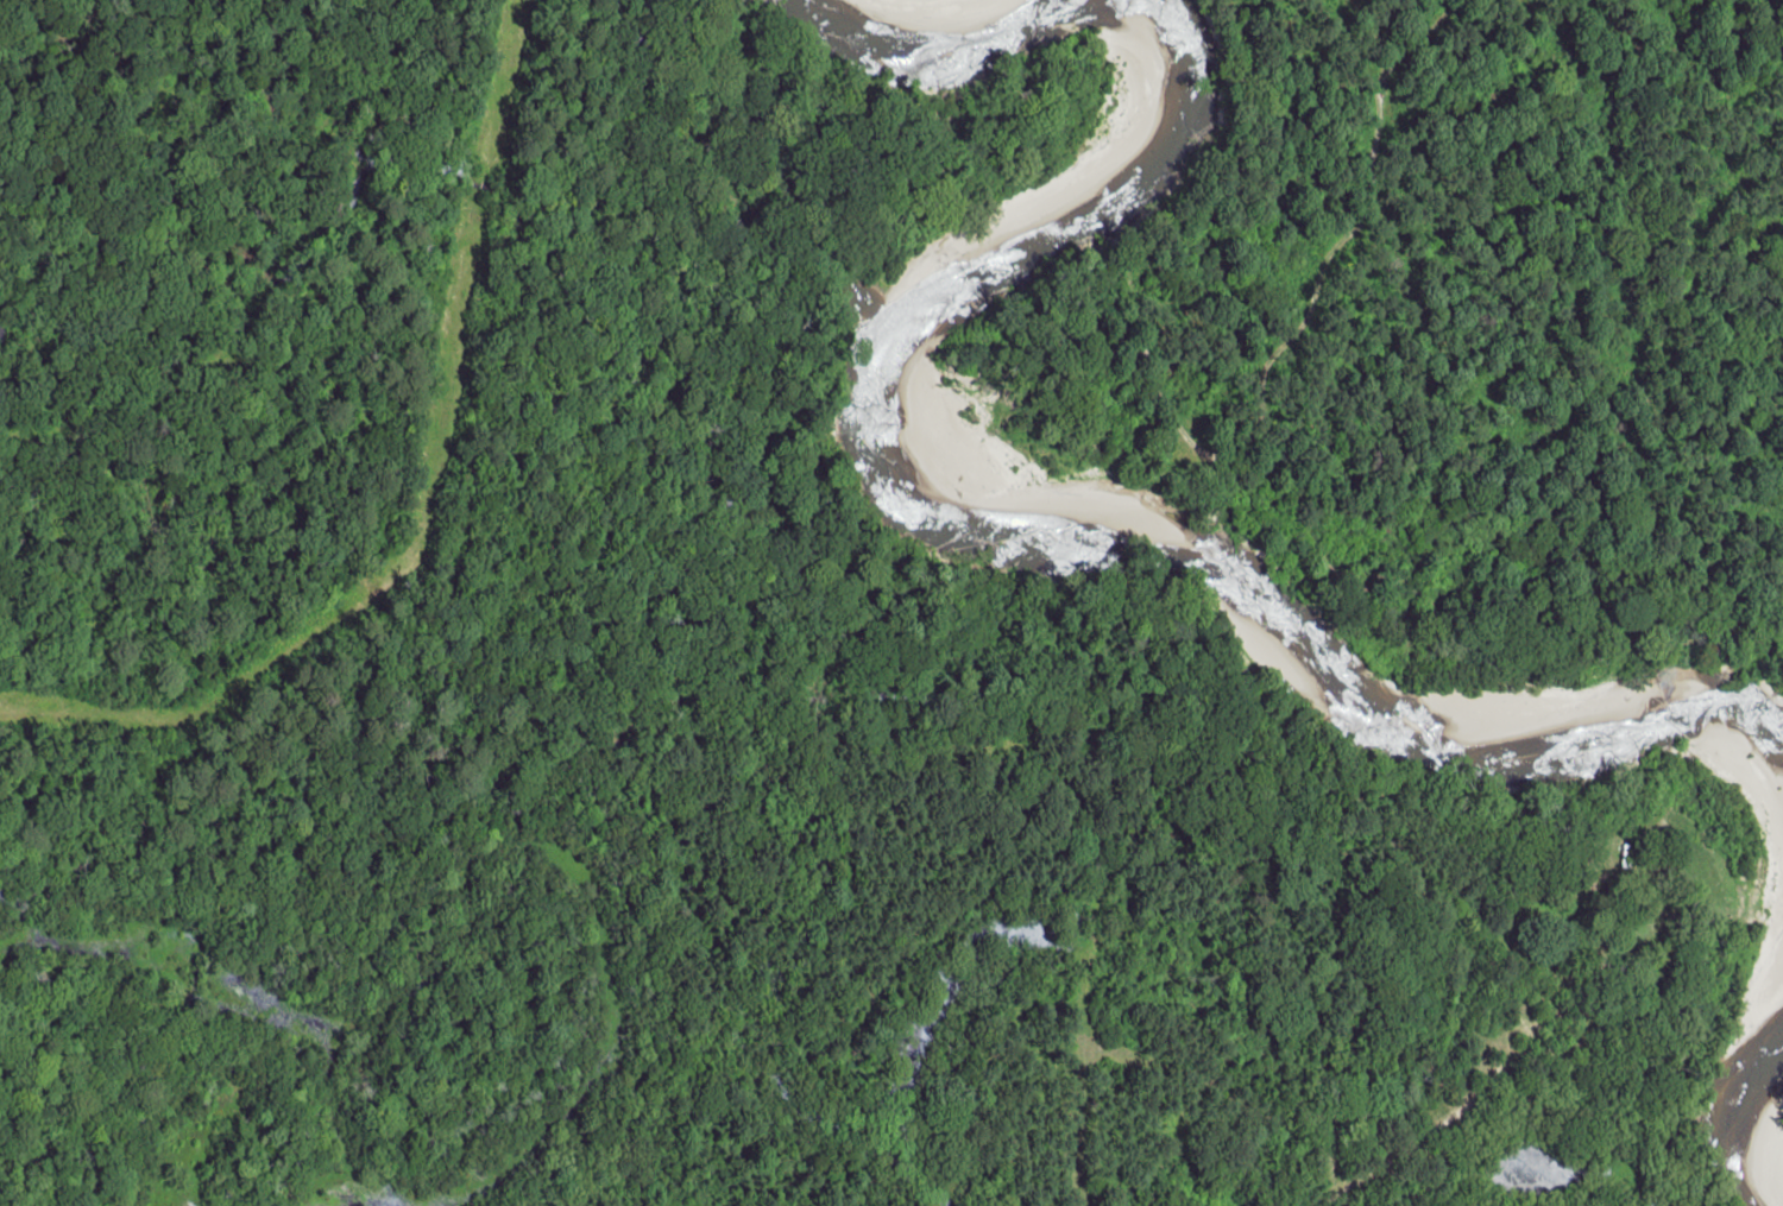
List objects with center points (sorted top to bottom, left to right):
road: (1388, 911)

